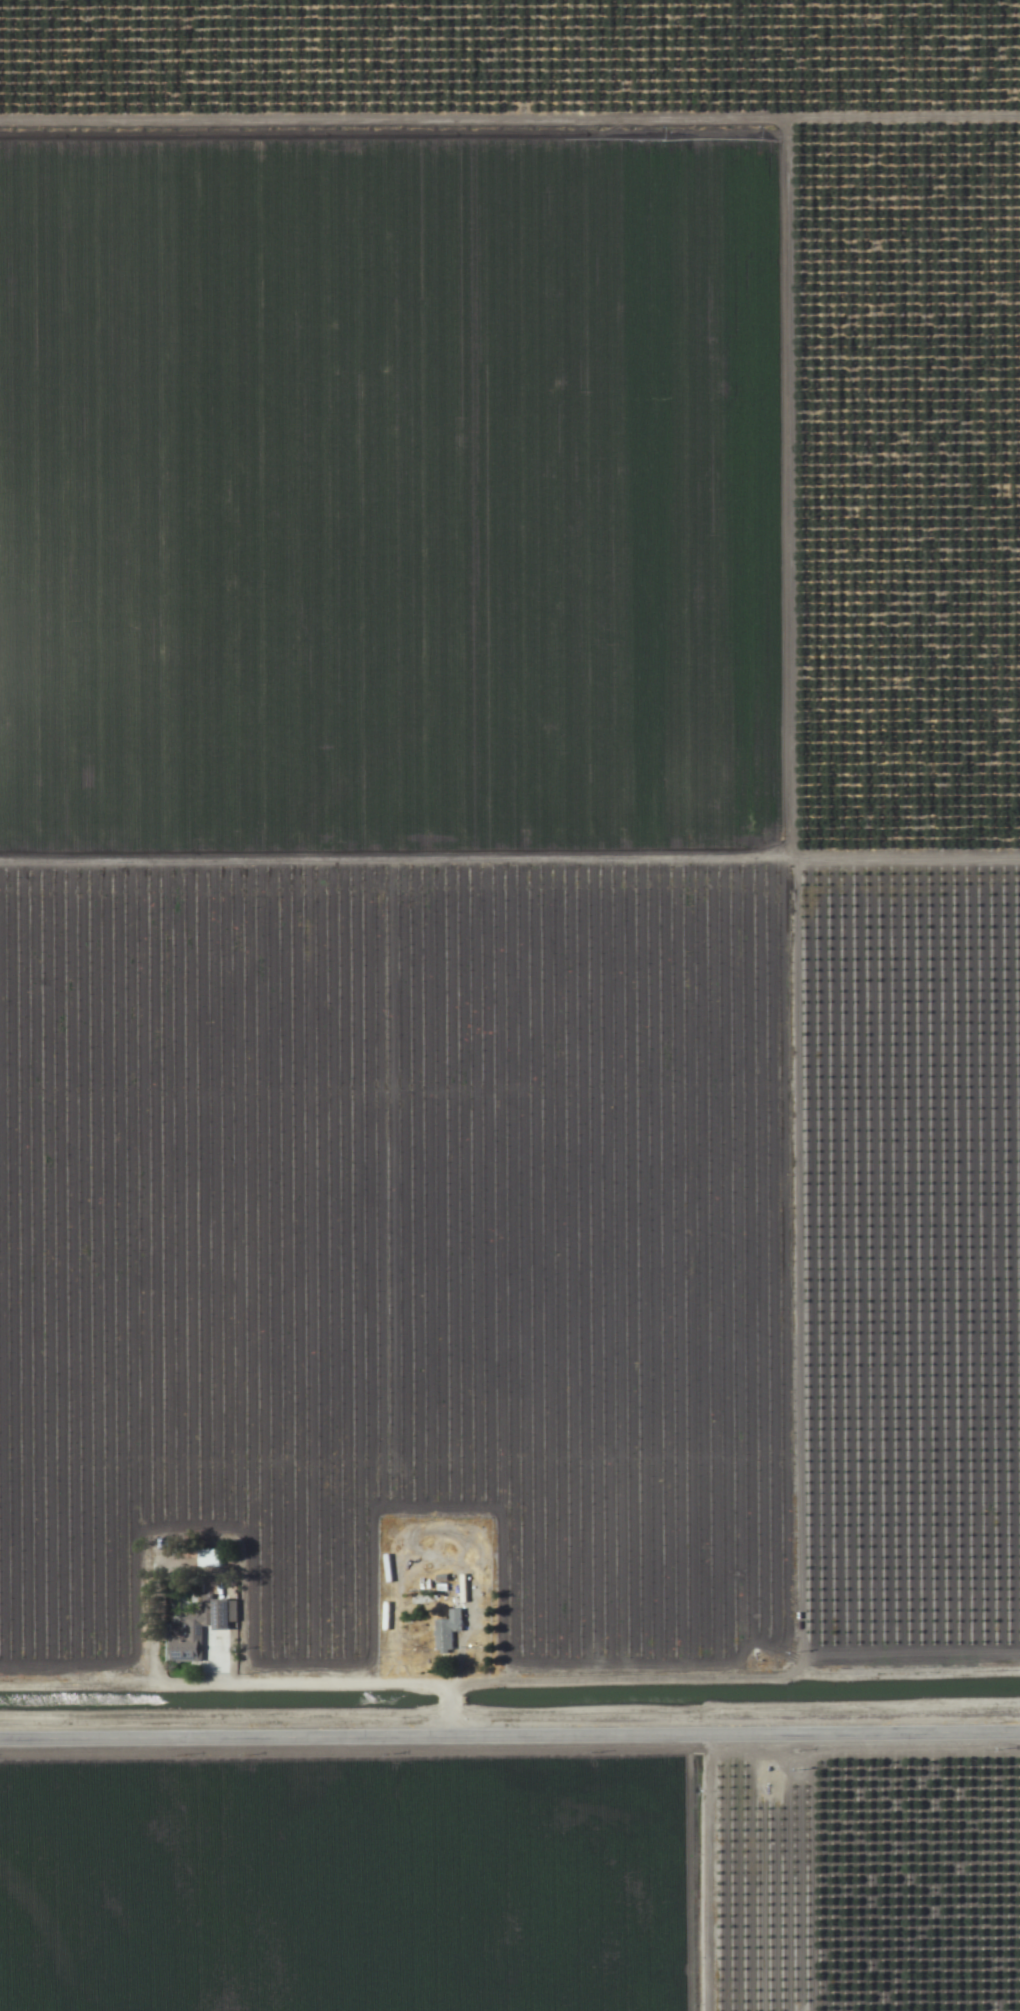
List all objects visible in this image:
crop: (510, 1005)
building: (208, 1560)
building: (198, 1629)
building: (447, 1631)
road: (734, 1679)
road: (255, 1684)
road: (510, 1733)
road: (767, 1871)

